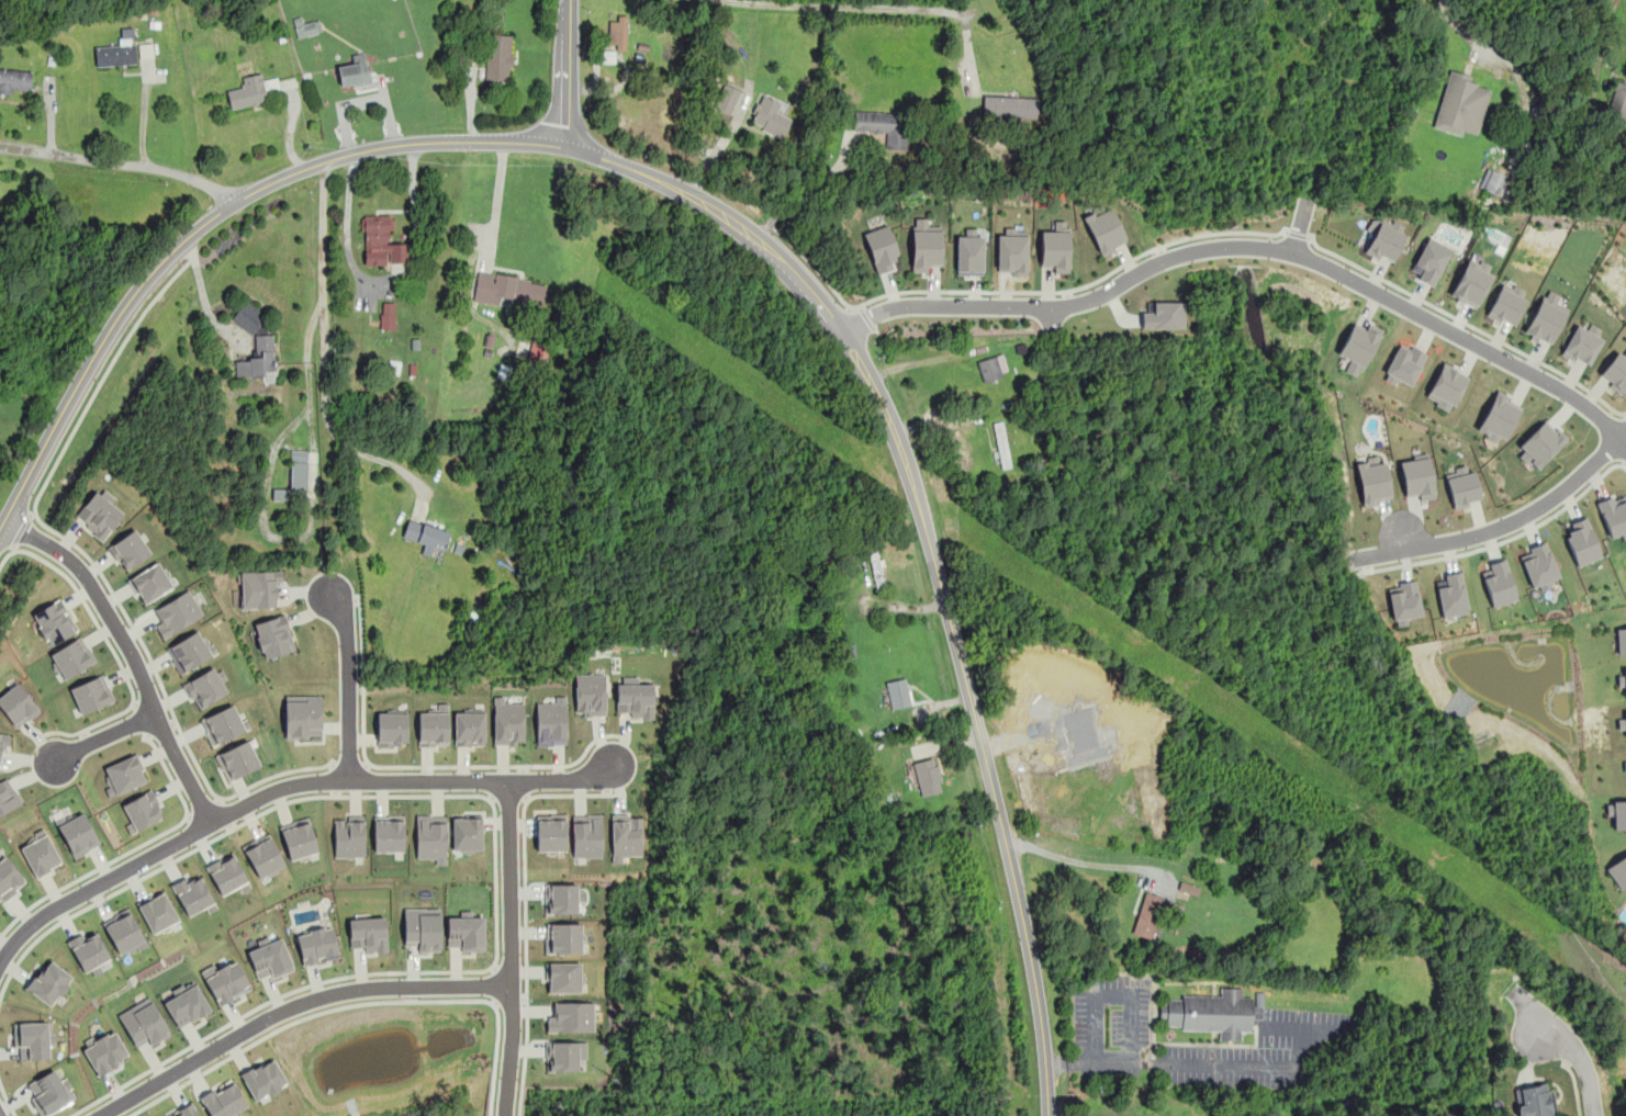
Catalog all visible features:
road: (851, 4)
road: (1456, 25)
building: (305, 26)
building: (617, 33)
road: (1592, 45)
building: (116, 50)
building: (498, 57)
building: (355, 71)
road: (563, 72)
building: (15, 81)
building: (248, 91)
building: (726, 98)
building: (1617, 102)
building: (1460, 104)
building: (1009, 106)
building: (769, 114)
building: (884, 126)
road: (120, 162)
building: (1493, 181)
road: (807, 191)
road: (496, 199)
road: (205, 221)
road: (1299, 226)
building: (1104, 230)
road: (1297, 234)
building: (382, 243)
building: (1383, 243)
building: (926, 245)
building: (1055, 247)
road: (1251, 247)
building: (881, 248)
building: (1012, 253)
building: (969, 255)
building: (1429, 260)
road: (386, 281)
building: (1471, 282)
building: (509, 290)
road: (1020, 291)
road: (321, 297)
building: (1506, 303)
road: (859, 306)
building: (388, 315)
building: (1163, 315)
road: (866, 317)
building: (1547, 317)
road: (1467, 323)
building: (1583, 341)
building: (255, 343)
building: (1357, 347)
road: (920, 361)
building: (1403, 364)
building: (993, 367)
building: (1616, 371)
building: (1445, 387)
building: (1498, 418)
building: (1539, 446)
road: (383, 460)
road: (1624, 463)
road: (1624, 466)
building: (299, 470)
building: (1416, 477)
building: (1371, 481)
building: (1461, 485)
building: (280, 494)
building: (1613, 514)
building: (98, 515)
road: (1504, 526)
road: (20, 529)
building: (426, 534)
building: (1581, 541)
road: (1499, 542)
road: (931, 548)
building: (130, 550)
road: (93, 563)
building: (1538, 565)
road: (55, 568)
building: (149, 583)
building: (1498, 583)
building: (258, 588)
building: (1451, 595)
building: (1403, 599)
building: (177, 612)
building: (55, 621)
building: (273, 635)
building: (1621, 640)
building: (191, 651)
road: (131, 652)
building: (71, 657)
building: (1622, 680)
road: (348, 684)
building: (205, 687)
building: (898, 692)
building: (91, 694)
building: (590, 694)
building: (635, 699)
building: (18, 704)
road: (130, 706)
building: (302, 715)
road: (143, 719)
building: (551, 720)
building: (507, 721)
building: (1622, 723)
building: (223, 724)
building: (392, 729)
building: (433, 729)
building: (469, 729)
road: (104, 735)
building: (4, 737)
building: (237, 760)
road: (350, 764)
building: (1624, 765)
road: (419, 766)
building: (123, 775)
building: (927, 776)
road: (282, 787)
building: (8, 796)
road: (489, 797)
road: (507, 797)
road: (526, 797)
building: (142, 811)
building: (1616, 813)
road: (494, 816)
building: (550, 832)
building: (78, 833)
building: (388, 833)
building: (467, 834)
building: (586, 835)
building: (348, 836)
building: (625, 836)
building: (430, 837)
building: (298, 838)
road: (131, 850)
building: (41, 854)
building: (263, 856)
road: (1084, 861)
building: (1617, 870)
building: (226, 875)
building: (9, 878)
building: (1187, 890)
building: (193, 894)
building: (562, 899)
building: (157, 912)
road: (524, 914)
building: (1147, 914)
building: (422, 928)
building: (123, 932)
building: (464, 933)
building: (367, 934)
building: (562, 937)
building: (316, 945)
road: (509, 948)
building: (88, 951)
building: (269, 959)
building: (563, 977)
building: (224, 981)
building: (49, 982)
road: (495, 982)
road: (511, 999)
road: (449, 1000)
road: (494, 1003)
building: (186, 1004)
road: (291, 1006)
building: (1209, 1012)
building: (570, 1017)
building: (143, 1023)
building: (31, 1039)
road: (1569, 1046)
building: (105, 1052)
building: (564, 1055)
road: (1154, 1062)
road: (1066, 1063)
road: (211, 1067)
building: (262, 1079)
road: (1573, 1085)
road: (1, 1086)
building: (49, 1092)
building: (222, 1100)
building: (1534, 1100)
building: (184, 1111)

